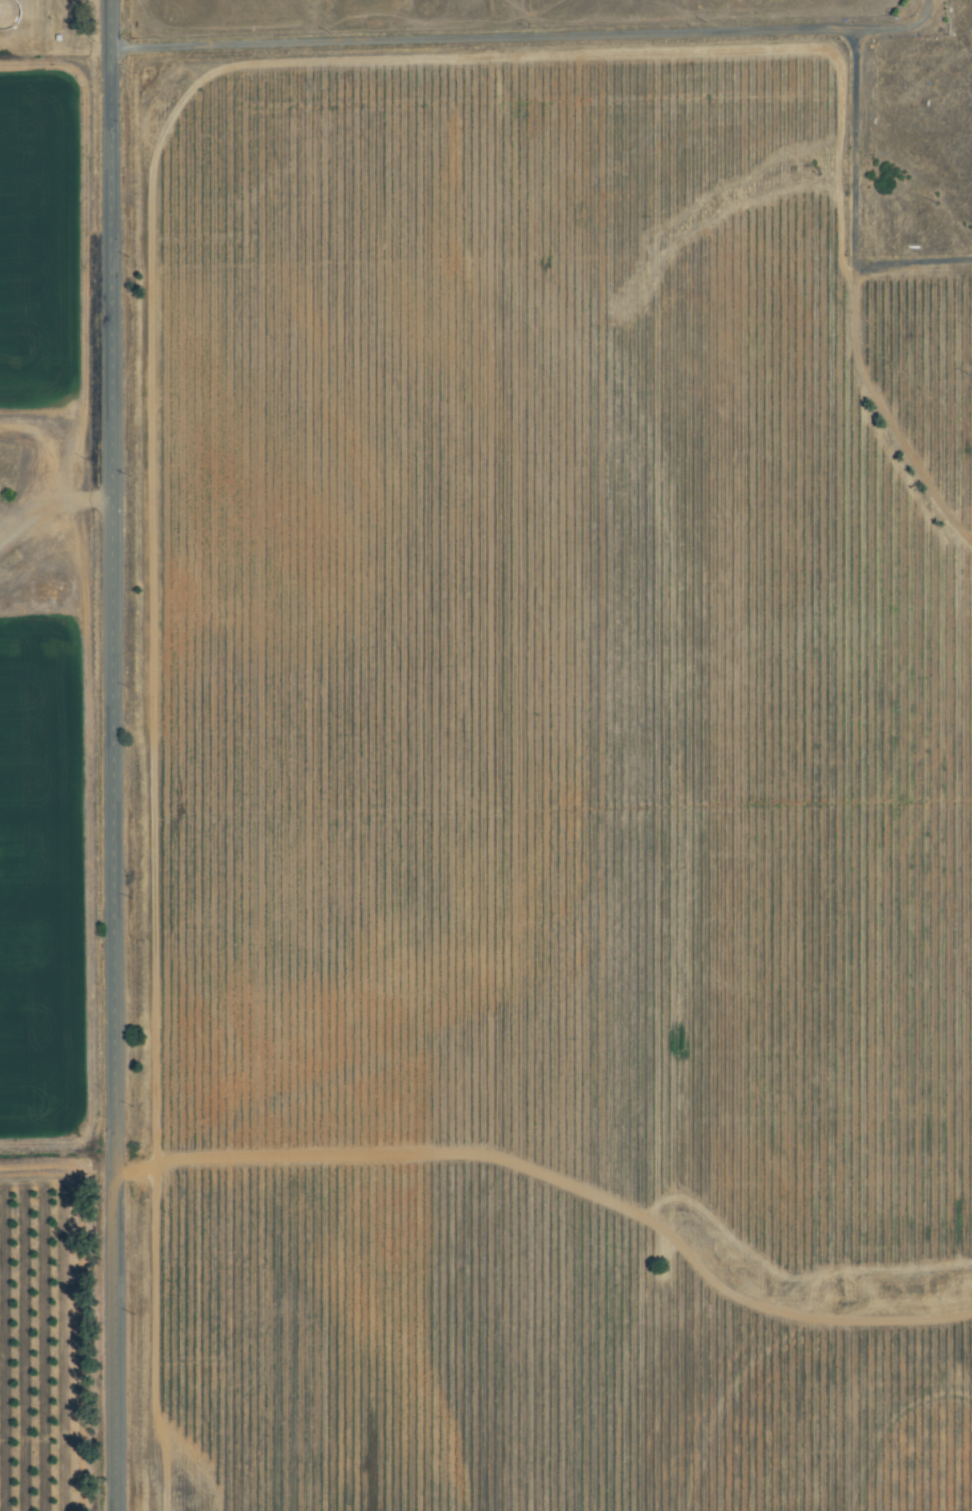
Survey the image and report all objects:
road: (525, 38)
road: (854, 302)
road: (55, 505)
road: (112, 755)

